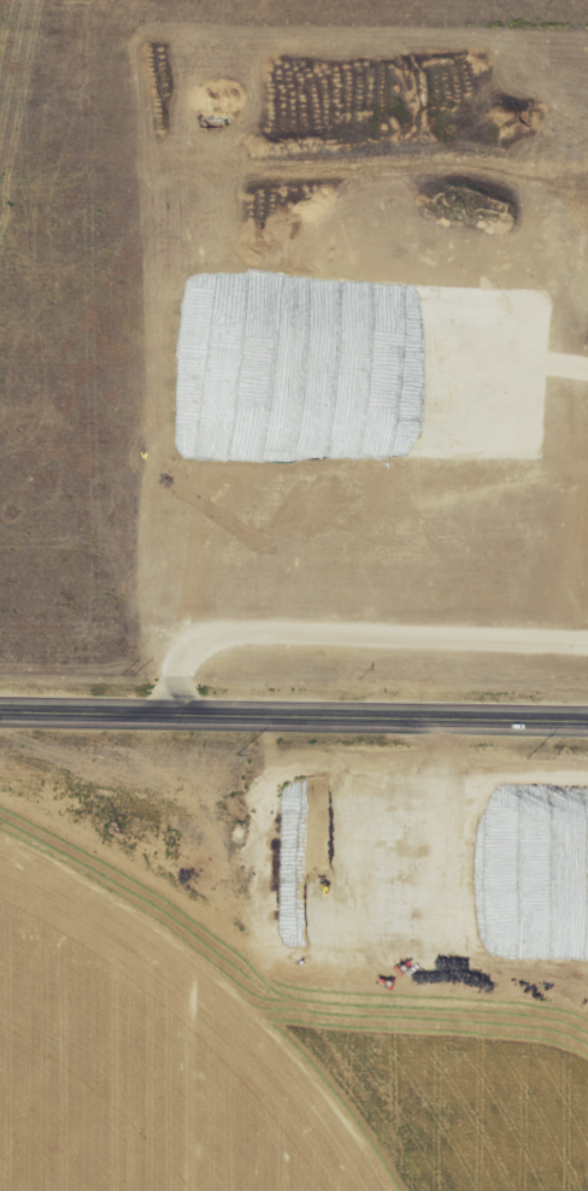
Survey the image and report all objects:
road: (293, 718)

